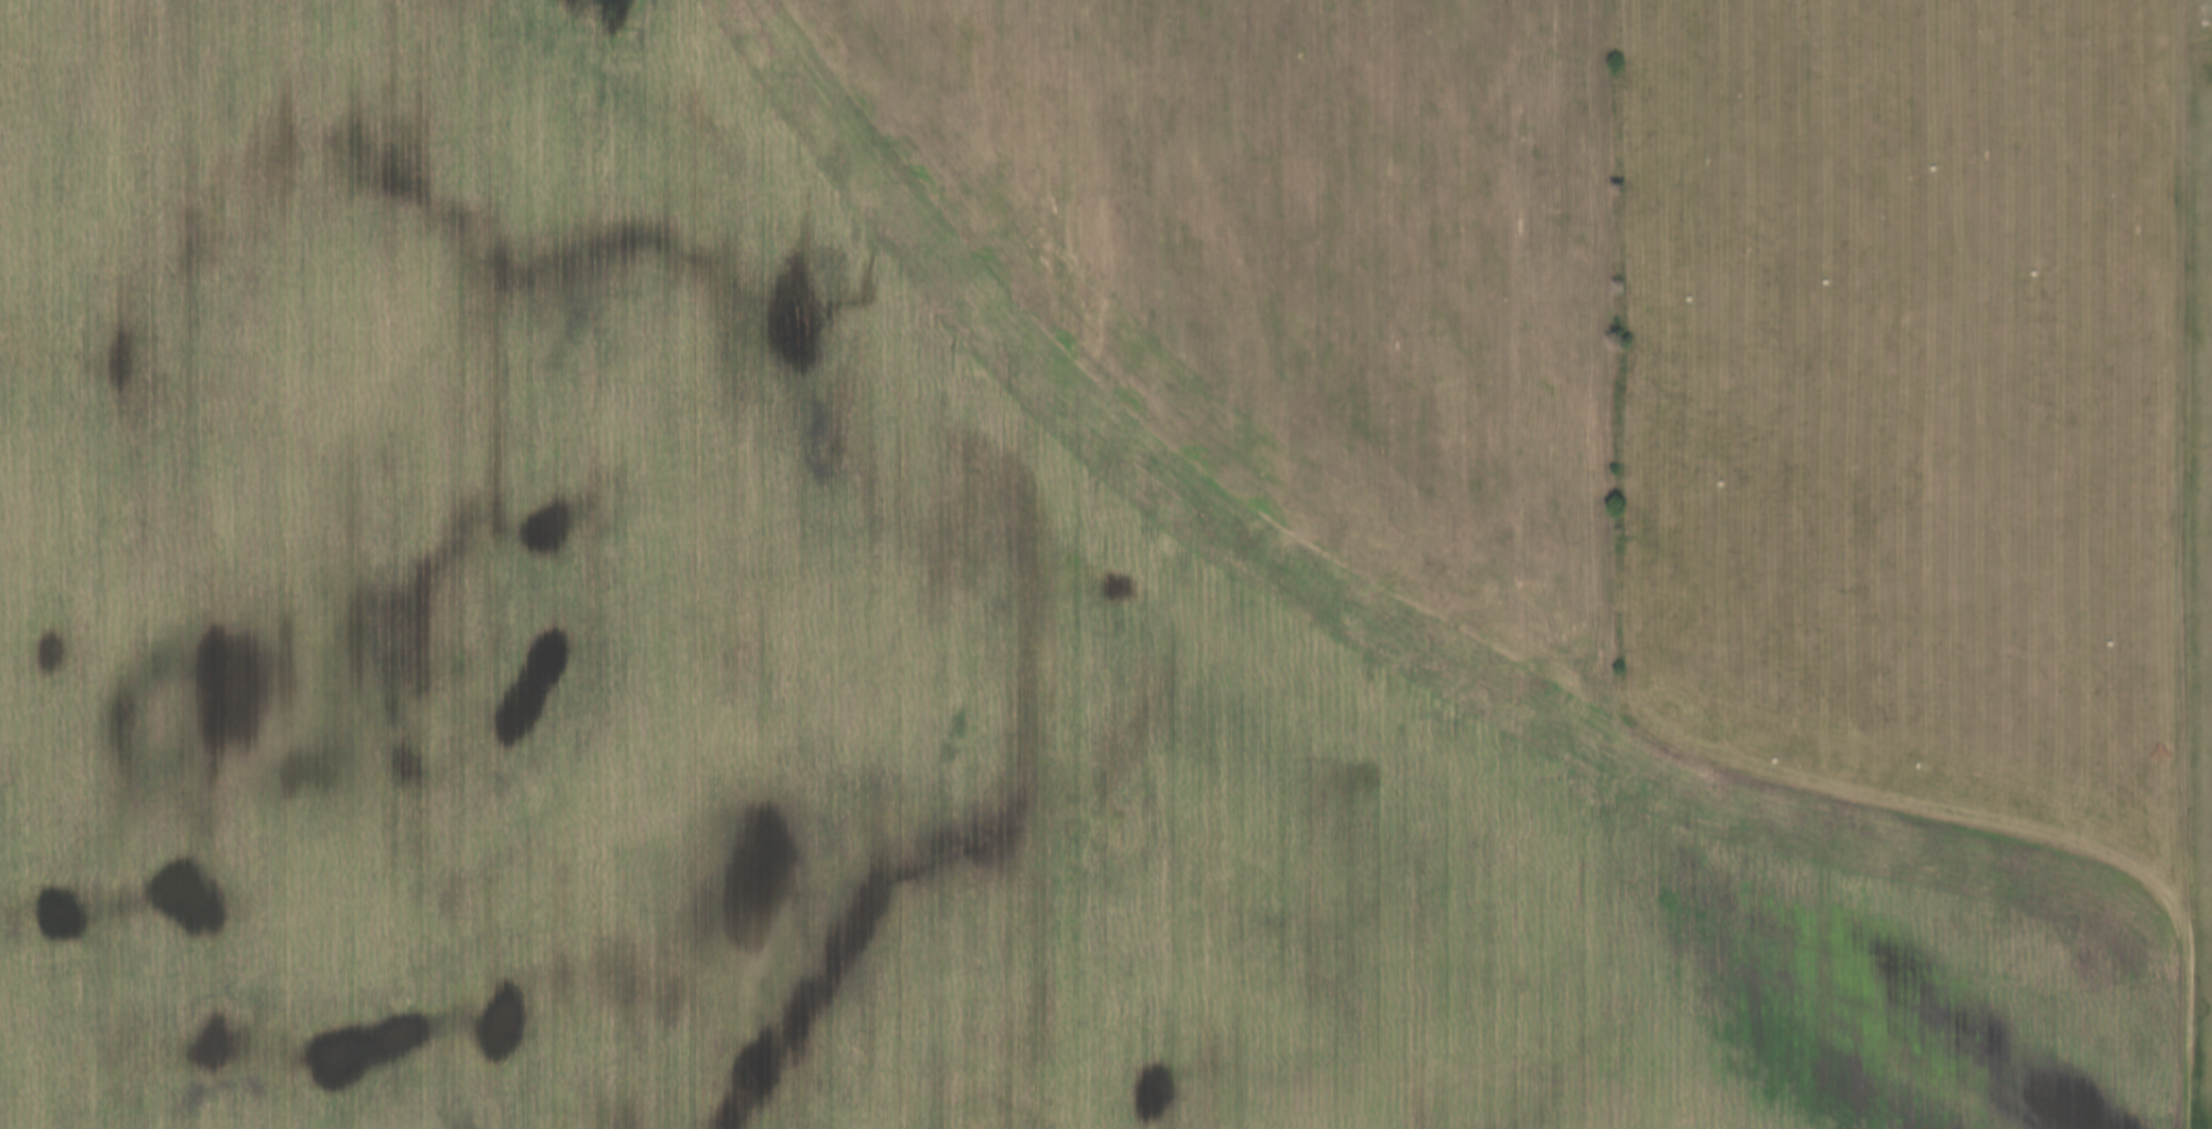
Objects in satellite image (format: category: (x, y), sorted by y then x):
road: (2181, 564)

